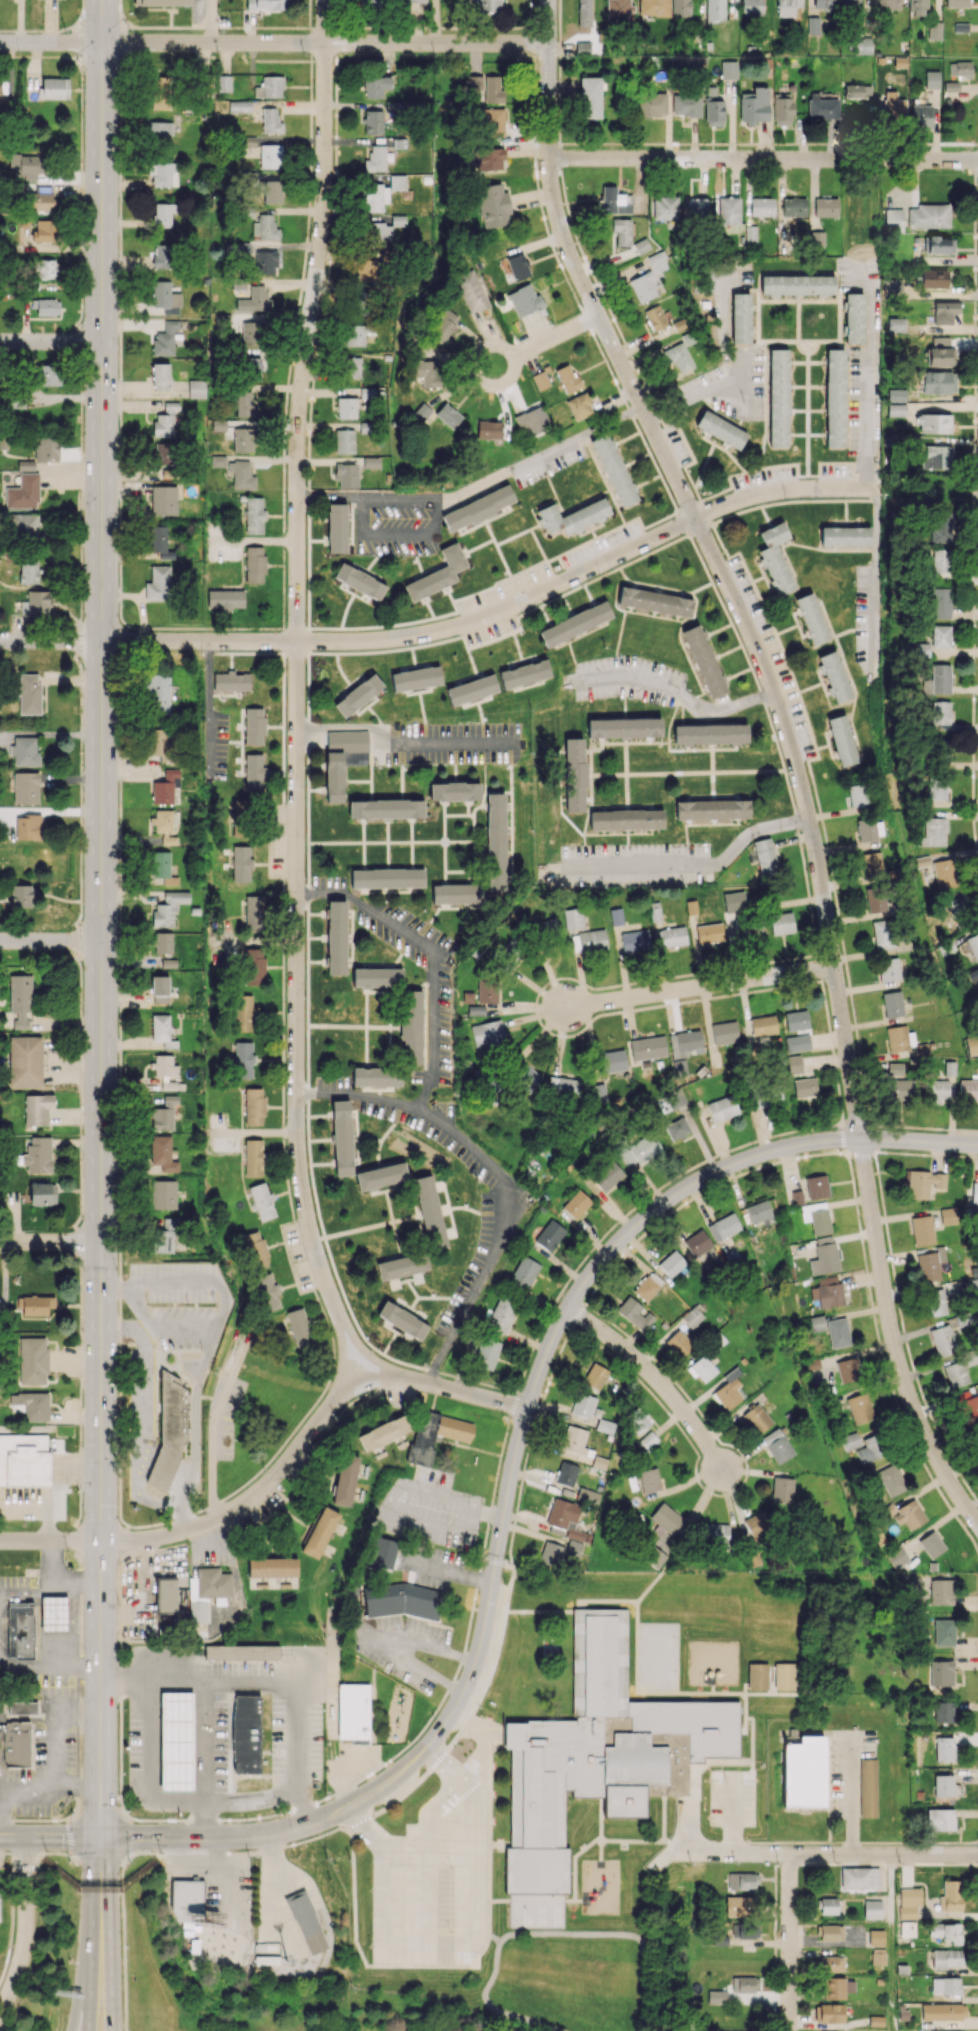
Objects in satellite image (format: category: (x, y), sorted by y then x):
building: (416, 0)
building: (162, 2)
building: (850, 3)
building: (956, 3)
building: (266, 4)
building: (370, 4)
building: (823, 4)
building: (887, 4)
building: (488, 5)
building: (654, 7)
building: (752, 7)
building: (787, 7)
building: (917, 7)
building: (681, 8)
building: (715, 9)
building: (618, 10)
building: (584, 13)
road: (212, 21)
road: (433, 21)
building: (813, 25)
building: (934, 30)
road: (50, 42)
traffic signals: (101, 43)
road: (325, 43)
building: (862, 45)
building: (960, 68)
building: (728, 69)
building: (932, 79)
building: (475, 82)
building: (224, 83)
building: (376, 86)
building: (269, 87)
building: (54, 88)
building: (493, 89)
building: (857, 91)
building: (161, 92)
building: (590, 97)
building: (652, 104)
building: (686, 104)
building: (754, 105)
building: (893, 105)
building: (240, 106)
building: (822, 107)
building: (782, 108)
building: (714, 113)
building: (921, 116)
building: (271, 121)
building: (373, 122)
building: (492, 122)
building: (159, 129)
building: (270, 155)
building: (490, 157)
building: (376, 159)
road: (763, 159)
building: (25, 163)
building: (163, 174)
building: (397, 182)
building: (272, 191)
building: (375, 197)
building: (40, 201)
building: (613, 201)
building: (493, 205)
building: (697, 206)
building: (762, 206)
building: (794, 206)
building: (826, 206)
building: (665, 208)
building: (729, 210)
building: (163, 214)
building: (929, 216)
building: (893, 220)
building: (265, 228)
building: (44, 230)
building: (622, 231)
building: (376, 233)
building: (817, 238)
building: (940, 244)
building: (641, 245)
building: (161, 255)
building: (265, 262)
building: (518, 266)
building: (47, 269)
building: (366, 270)
building: (648, 278)
building: (934, 278)
building: (708, 280)
building: (797, 284)
building: (471, 291)
building: (165, 297)
building: (254, 299)
building: (524, 300)
building: (46, 306)
building: (947, 312)
building: (655, 317)
building: (740, 317)
building: (854, 318)
building: (443, 324)
building: (252, 332)
building: (355, 335)
building: (165, 338)
road: (50, 341)
road: (544, 342)
building: (939, 356)
building: (677, 357)
building: (350, 367)
building: (251, 368)
building: (428, 372)
building: (48, 374)
building: (160, 376)
road: (732, 377)
building: (567, 378)
building: (540, 380)
road: (875, 382)
building: (939, 382)
building: (196, 388)
building: (896, 395)
building: (778, 397)
building: (834, 397)
building: (244, 403)
building: (579, 406)
building: (346, 407)
building: (896, 409)
building: (448, 415)
building: (532, 419)
building: (165, 421)
building: (934, 423)
building: (489, 429)
building: (721, 429)
building: (242, 439)
building: (344, 441)
building: (47, 448)
building: (164, 452)
building: (936, 457)
building: (218, 460)
building: (371, 462)
building: (26, 465)
building: (613, 469)
building: (241, 474)
building: (346, 475)
road: (478, 485)
building: (23, 492)
building: (163, 500)
building: (478, 507)
building: (254, 515)
building: (573, 516)
building: (24, 525)
building: (336, 527)
building: (941, 527)
building: (845, 536)
building: (157, 538)
building: (775, 557)
building: (940, 560)
building: (254, 564)
building: (28, 572)
building: (437, 573)
building: (359, 581)
building: (158, 583)
building: (225, 598)
building: (655, 601)
building: (38, 602)
building: (940, 603)
road: (498, 611)
building: (811, 618)
building: (575, 623)
building: (940, 636)
road: (50, 641)
building: (921, 649)
building: (704, 661)
building: (524, 673)
building: (834, 676)
building: (416, 678)
building: (940, 678)
building: (231, 681)
road: (297, 688)
building: (472, 689)
road: (678, 690)
building: (29, 693)
building: (157, 694)
building: (358, 695)
building: (940, 712)
building: (254, 725)
building: (624, 727)
building: (710, 733)
building: (843, 741)
building: (159, 743)
road: (397, 743)
building: (939, 749)
building: (24, 750)
road: (792, 750)
building: (342, 759)
building: (253, 772)
building: (574, 774)
building: (26, 787)
building: (165, 787)
building: (936, 788)
building: (454, 791)
building: (858, 795)
building: (386, 808)
building: (712, 809)
building: (240, 818)
building: (626, 819)
building: (29, 826)
building: (163, 826)
building: (867, 829)
building: (933, 832)
building: (496, 841)
building: (765, 856)
road: (697, 861)
building: (241, 863)
building: (873, 863)
building: (162, 867)
building: (944, 872)
building: (387, 878)
road: (100, 892)
building: (456, 893)
building: (21, 896)
building: (878, 899)
building: (734, 901)
building: (958, 906)
building: (168, 908)
building: (253, 913)
building: (616, 916)
building: (573, 918)
building: (548, 923)
building: (781, 923)
building: (757, 926)
building: (709, 933)
building: (883, 934)
building: (336, 937)
building: (670, 937)
road: (50, 940)
building: (588, 940)
building: (635, 941)
building: (163, 942)
building: (973, 945)
building: (508, 955)
road: (434, 956)
building: (168, 962)
building: (254, 966)
building: (889, 969)
building: (972, 975)
building: (377, 977)
road: (698, 987)
building: (159, 989)
building: (487, 989)
building: (20, 998)
building: (892, 1003)
building: (243, 1013)
building: (796, 1020)
building: (763, 1025)
building: (411, 1026)
building: (162, 1031)
building: (724, 1032)
building: (487, 1033)
building: (897, 1038)
building: (797, 1042)
building: (685, 1043)
building: (648, 1047)
building: (243, 1059)
building: (612, 1060)
building: (24, 1061)
building: (794, 1064)
building: (164, 1065)
building: (678, 1065)
building: (896, 1068)
building: (377, 1076)
building: (524, 1076)
building: (166, 1084)
building: (563, 1087)
building: (805, 1087)
building: (968, 1089)
building: (900, 1090)
building: (938, 1090)
building: (598, 1092)
building: (254, 1106)
building: (37, 1108)
building: (721, 1108)
building: (164, 1113)
building: (677, 1128)
building: (342, 1137)
building: (636, 1149)
building: (162, 1153)
building: (38, 1154)
building: (253, 1157)
building: (381, 1176)
building: (607, 1176)
road: (503, 1180)
building: (923, 1183)
building: (816, 1186)
building: (974, 1192)
building: (42, 1193)
building: (163, 1194)
building: (796, 1197)
building: (262, 1201)
building: (576, 1204)
building: (429, 1212)
building: (758, 1212)
building: (948, 1215)
building: (817, 1217)
building: (723, 1226)
building: (922, 1230)
building: (164, 1235)
building: (550, 1235)
road: (50, 1241)
building: (697, 1243)
building: (255, 1249)
building: (824, 1256)
building: (671, 1263)
building: (930, 1264)
building: (402, 1265)
building: (524, 1272)
building: (647, 1286)
building: (267, 1292)
building: (828, 1292)
building: (934, 1302)
building: (36, 1305)
building: (634, 1313)
building: (693, 1314)
building: (501, 1315)
building: (402, 1320)
building: (817, 1323)
road: (165, 1326)
building: (298, 1327)
building: (838, 1332)
road: (213, 1339)
building: (943, 1340)
building: (679, 1343)
building: (486, 1353)
building: (33, 1360)
building: (847, 1369)
road: (539, 1371)
building: (956, 1374)
building: (595, 1376)
road: (656, 1378)
road: (445, 1387)
building: (728, 1389)
building: (32, 1404)
building: (583, 1405)
building: (860, 1408)
building: (970, 1408)
road: (141, 1416)
building: (756, 1418)
building: (637, 1421)
building: (167, 1432)
building: (383, 1432)
building: (436, 1434)
building: (977, 1434)
building: (575, 1440)
building: (649, 1440)
building: (851, 1440)
building: (777, 1445)
building: (869, 1450)
building: (24, 1459)
building: (566, 1473)
building: (345, 1479)
building: (649, 1479)
building: (892, 1479)
building: (782, 1489)
road: (256, 1492)
building: (906, 1514)
building: (567, 1518)
road: (182, 1519)
building: (665, 1520)
building: (756, 1520)
building: (320, 1532)
building: (715, 1533)
road: (50, 1541)
building: (931, 1544)
building: (573, 1548)
building: (381, 1552)
building: (551, 1554)
building: (898, 1556)
building: (654, 1557)
building: (272, 1566)
road: (448, 1571)
road: (61, 1577)
building: (940, 1591)
road: (641, 1594)
building: (166, 1595)
building: (205, 1596)
building: (402, 1600)
building: (53, 1613)
building: (20, 1630)
building: (944, 1632)
road: (373, 1636)
road: (69, 1637)
building: (241, 1651)
building: (941, 1673)
building: (757, 1676)
building: (784, 1676)
road: (728, 1694)
road: (207, 1706)
building: (22, 1707)
road: (301, 1707)
building: (353, 1712)
building: (944, 1712)
road: (29, 1717)
road: (477, 1729)
road: (55, 1731)
building: (246, 1734)
building: (176, 1741)
building: (17, 1747)
building: (945, 1748)
road: (496, 1751)
building: (603, 1756)
road: (441, 1763)
road: (149, 1764)
building: (803, 1772)
road: (418, 1780)
road: (77, 1784)
building: (944, 1785)
building: (868, 1787)
road: (26, 1788)
road: (1, 1794)
road: (852, 1795)
parking lot: (732, 1796)
road: (255, 1799)
road: (1, 1807)
road: (729, 1811)
road: (101, 1812)
building: (940, 1819)
road: (687, 1828)
road: (369, 1829)
road: (258, 1839)
road: (13, 1840)
road: (64, 1840)
traffic signals: (101, 1840)
road: (154, 1840)
road: (34, 1847)
road: (832, 1853)
road: (426, 1856)
road: (574, 1860)
road: (80, 1864)
road: (61, 1872)
road: (142, 1873)
parking lot: (437, 1873)
building: (695, 1873)
building: (860, 1878)
building: (742, 1881)
road: (92, 1886)
road: (102, 1888)
building: (950, 1896)
building: (186, 1899)
building: (909, 1902)
building: (738, 1904)
building: (828, 1905)
building: (872, 1909)
building: (306, 1922)
road: (124, 1925)
road: (25, 1927)
building: (907, 1928)
building: (748, 1929)
building: (830, 1932)
building: (946, 1932)
road: (109, 1935)
building: (876, 1937)
road: (789, 1942)
road: (463, 1943)
street lamp: (128, 1946)
building: (878, 1956)
building: (946, 1958)
building: (266, 1959)
street lamp: (68, 1961)
building: (831, 1963)
road: (475, 1967)
road: (82, 1983)
road: (89, 1983)
building: (744, 1984)
building: (951, 1985)
building: (837, 1987)
building: (717, 1996)
building: (943, 2011)
building: (829, 2013)
building: (876, 2020)
street lamp: (129, 2030)
building: (834, 2030)
building: (941, 2030)

